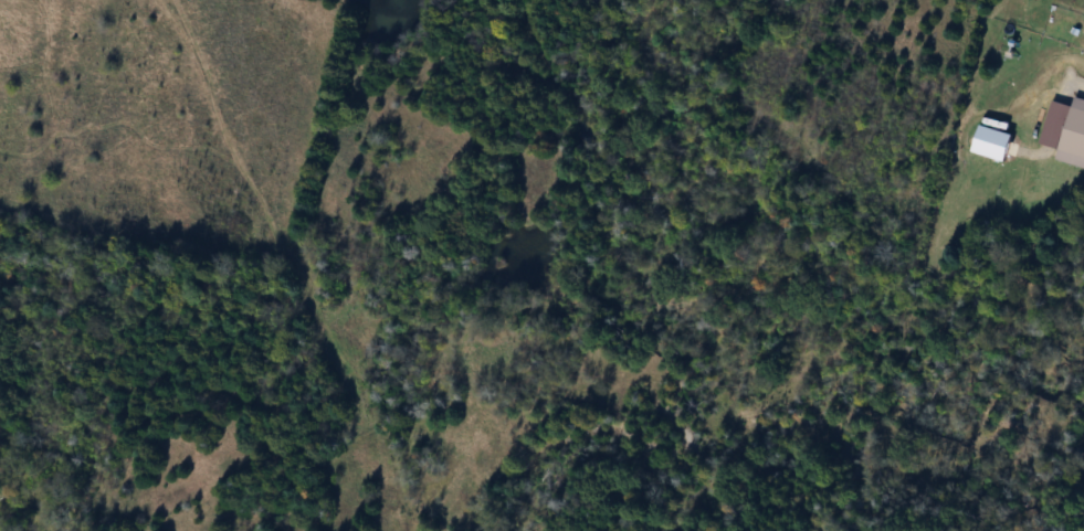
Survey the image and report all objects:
building: (1073, 134)

